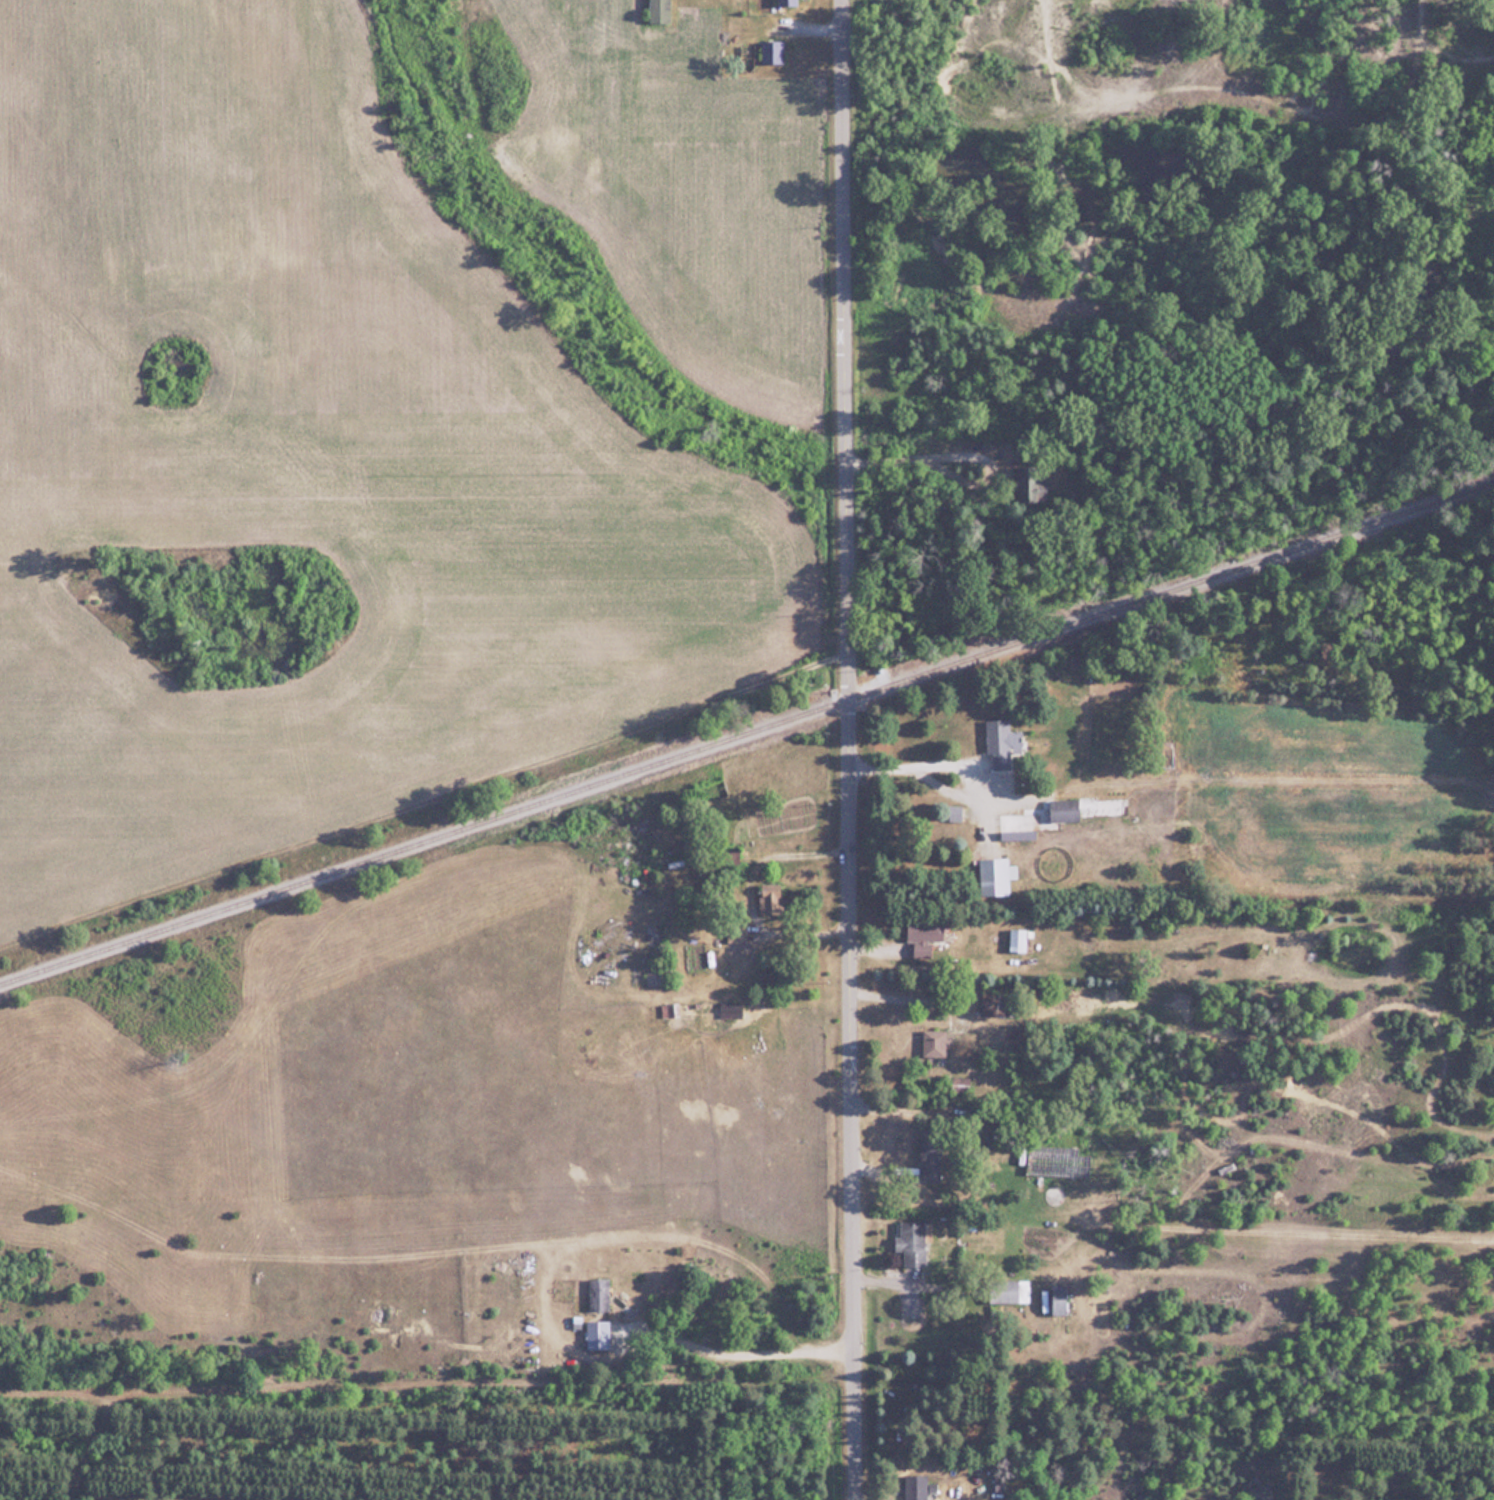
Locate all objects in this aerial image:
building: (788, 2)
building: (772, 51)
road: (930, 458)
building: (1031, 474)
railway: (745, 733)
building: (1004, 744)
road: (846, 749)
road: (912, 765)
building: (1065, 810)
building: (996, 876)
building: (770, 898)
building: (925, 935)
building: (994, 1002)
building: (671, 1009)
building: (731, 1010)
building: (935, 1042)
building: (931, 1153)
building: (913, 1241)
building: (1010, 1290)
building: (599, 1292)
building: (1061, 1298)
road: (427, 1388)
building: (916, 1486)

